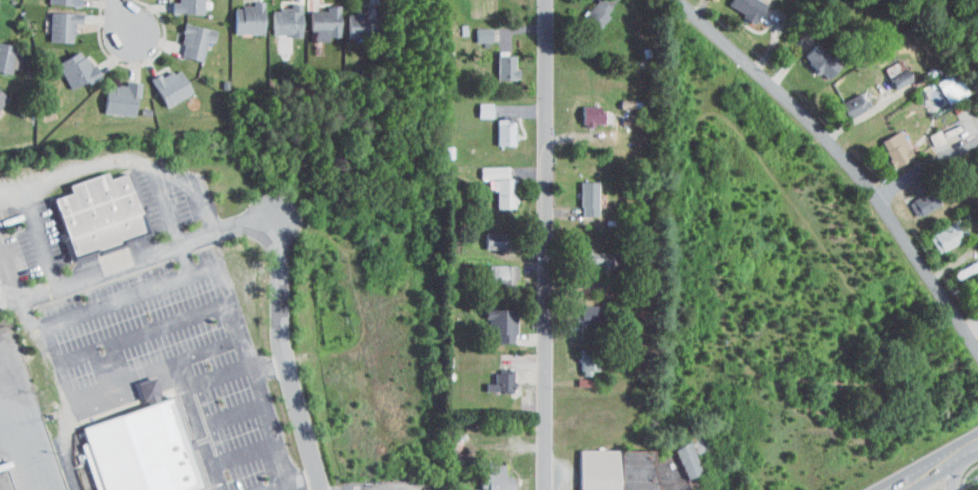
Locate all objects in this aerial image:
building: (178, 4)
building: (740, 6)
road: (701, 7)
building: (587, 10)
building: (239, 14)
building: (277, 15)
building: (352, 15)
road: (125, 18)
building: (316, 18)
building: (52, 20)
building: (474, 29)
building: (185, 35)
building: (2, 51)
building: (812, 55)
building: (497, 61)
building: (885, 62)
building: (67, 65)
building: (891, 72)
building: (161, 81)
building: (942, 82)
building: (112, 93)
building: (845, 99)
building: (476, 104)
building: (585, 109)
building: (496, 127)
building: (927, 132)
building: (887, 143)
road: (850, 158)
road: (81, 163)
road: (928, 167)
building: (491, 178)
road: (200, 184)
building: (580, 191)
road: (15, 192)
building: (915, 196)
building: (101, 213)
road: (274, 218)
building: (937, 230)
building: (486, 233)
road: (545, 245)
building: (588, 250)
road: (142, 256)
road: (7, 263)
building: (494, 267)
road: (7, 288)
road: (17, 293)
road: (113, 304)
building: (581, 308)
building: (493, 317)
road: (143, 334)
road: (245, 343)
road: (287, 357)
building: (580, 359)
parking lot: (174, 360)
road: (111, 363)
road: (156, 366)
building: (492, 375)
road: (211, 378)
road: (9, 391)
road: (67, 393)
road: (45, 436)
road: (967, 447)
building: (145, 450)
building: (677, 452)
building: (608, 466)
road: (923, 472)
road: (954, 472)
building: (487, 474)
building: (5, 480)
road: (291, 480)

